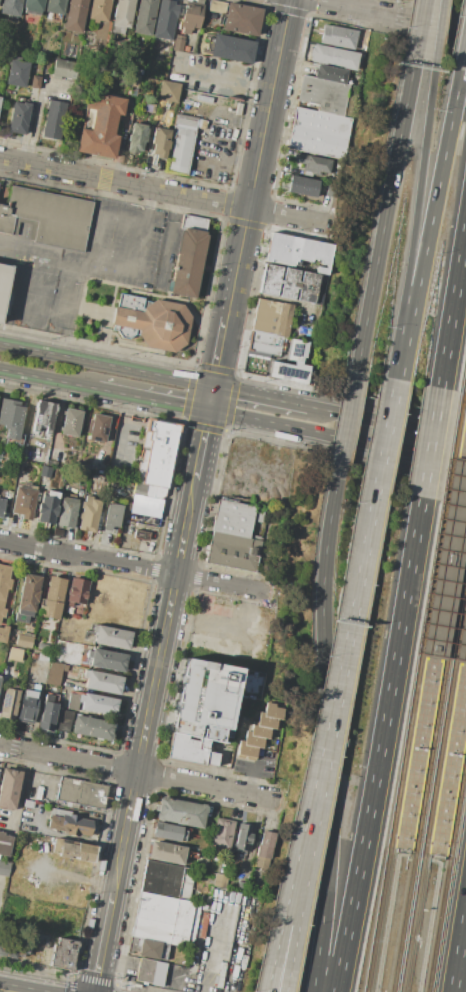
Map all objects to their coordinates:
building: (13, 2)
building: (55, 6)
building: (33, 7)
building: (216, 7)
building: (99, 10)
building: (74, 15)
building: (122, 15)
building: (191, 15)
road: (387, 15)
building: (211, 16)
building: (145, 17)
building: (241, 19)
building: (165, 20)
road: (418, 30)
road: (438, 32)
building: (338, 37)
building: (178, 43)
building: (186, 49)
building: (233, 49)
road: (463, 56)
building: (335, 57)
building: (63, 68)
building: (132, 69)
building: (16, 71)
building: (140, 72)
building: (332, 73)
road: (221, 75)
building: (34, 83)
building: (135, 85)
building: (62, 92)
building: (168, 92)
building: (198, 93)
building: (328, 95)
building: (0, 98)
building: (152, 108)
building: (18, 117)
building: (53, 119)
building: (101, 126)
building: (320, 133)
building: (137, 137)
building: (160, 142)
building: (181, 143)
road: (244, 161)
building: (314, 162)
building: (303, 186)
building: (0, 187)
road: (167, 192)
road: (250, 193)
road: (96, 214)
road: (384, 215)
building: (49, 217)
road: (414, 221)
road: (429, 224)
building: (298, 250)
building: (192, 255)
road: (37, 258)
road: (136, 263)
parking lot: (82, 265)
road: (14, 282)
building: (291, 284)
building: (5, 288)
road: (41, 289)
road: (452, 304)
road: (65, 310)
road: (36, 315)
building: (156, 322)
building: (269, 326)
building: (306, 332)
building: (296, 349)
road: (106, 364)
building: (288, 371)
road: (48, 379)
railway: (464, 383)
traffic signals: (212, 386)
road: (259, 396)
road: (209, 398)
road: (151, 400)
traffic signals: (207, 410)
building: (44, 416)
building: (11, 417)
road: (57, 420)
road: (387, 421)
building: (71, 422)
road: (346, 425)
building: (98, 429)
road: (121, 432)
road: (336, 436)
road: (430, 442)
railway: (454, 447)
building: (77, 466)
building: (155, 468)
building: (85, 469)
building: (46, 472)
road: (459, 475)
road: (376, 500)
building: (24, 502)
building: (48, 506)
building: (2, 507)
road: (463, 507)
building: (67, 513)
building: (88, 514)
building: (112, 516)
building: (237, 517)
building: (141, 534)
road: (451, 542)
road: (137, 547)
building: (233, 551)
road: (460, 558)
road: (458, 559)
road: (448, 560)
road: (450, 560)
road: (460, 562)
building: (446, 566)
road: (135, 567)
road: (446, 572)
building: (4, 587)
building: (76, 591)
building: (27, 597)
building: (52, 598)
road: (452, 601)
building: (66, 627)
road: (241, 632)
building: (3, 633)
building: (112, 637)
building: (462, 638)
building: (24, 640)
road: (435, 640)
road: (463, 645)
building: (44, 648)
building: (15, 654)
building: (43, 657)
building: (107, 660)
building: (55, 673)
building: (102, 682)
building: (33, 687)
road: (96, 690)
building: (31, 693)
railway: (440, 695)
road: (149, 700)
building: (28, 702)
building: (73, 702)
building: (9, 704)
building: (98, 705)
building: (275, 710)
building: (201, 711)
building: (26, 714)
building: (47, 714)
building: (267, 721)
building: (93, 727)
building: (259, 731)
road: (327, 735)
building: (253, 740)
road: (380, 744)
railway: (405, 746)
building: (246, 752)
road: (139, 773)
road: (253, 777)
building: (9, 787)
railway: (433, 790)
building: (38, 792)
building: (81, 793)
building: (49, 798)
railway: (399, 802)
railway: (435, 804)
building: (28, 805)
road: (306, 805)
road: (317, 805)
building: (180, 813)
building: (70, 825)
building: (169, 832)
building: (222, 836)
road: (77, 838)
building: (242, 841)
building: (4, 844)
building: (265, 849)
road: (397, 849)
building: (73, 850)
building: (167, 852)
road: (441, 857)
building: (4, 867)
building: (213, 868)
railway: (446, 872)
road: (73, 876)
building: (166, 879)
building: (220, 880)
building: (244, 887)
road: (387, 917)
building: (165, 919)
road: (429, 921)
railway: (402, 922)
building: (201, 925)
building: (41, 940)
building: (12, 948)
building: (153, 949)
road: (458, 949)
building: (62, 953)
road: (212, 953)
road: (236, 953)
building: (145, 970)
road: (176, 981)
road: (26, 986)

